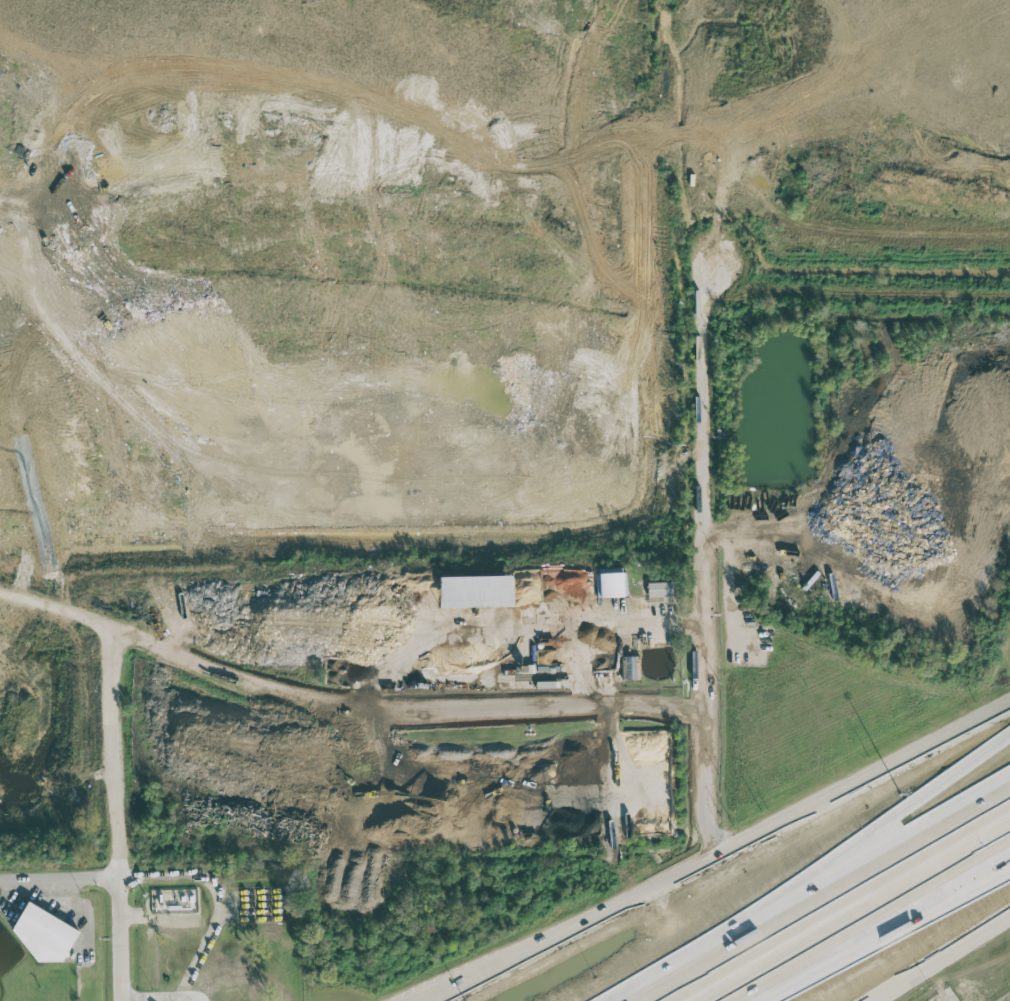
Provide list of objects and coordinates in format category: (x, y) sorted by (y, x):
landfill: (341, 282)
road: (700, 581)
building: (611, 584)
building: (659, 589)
building: (476, 591)
road: (550, 631)
building: (630, 667)
road: (340, 712)
road: (116, 815)
road: (725, 856)
road: (810, 872)
road: (59, 879)
road: (219, 898)
road: (831, 898)
road: (861, 915)
building: (43, 933)
road: (888, 935)
road: (940, 958)
road: (470, 972)
road: (179, 996)

